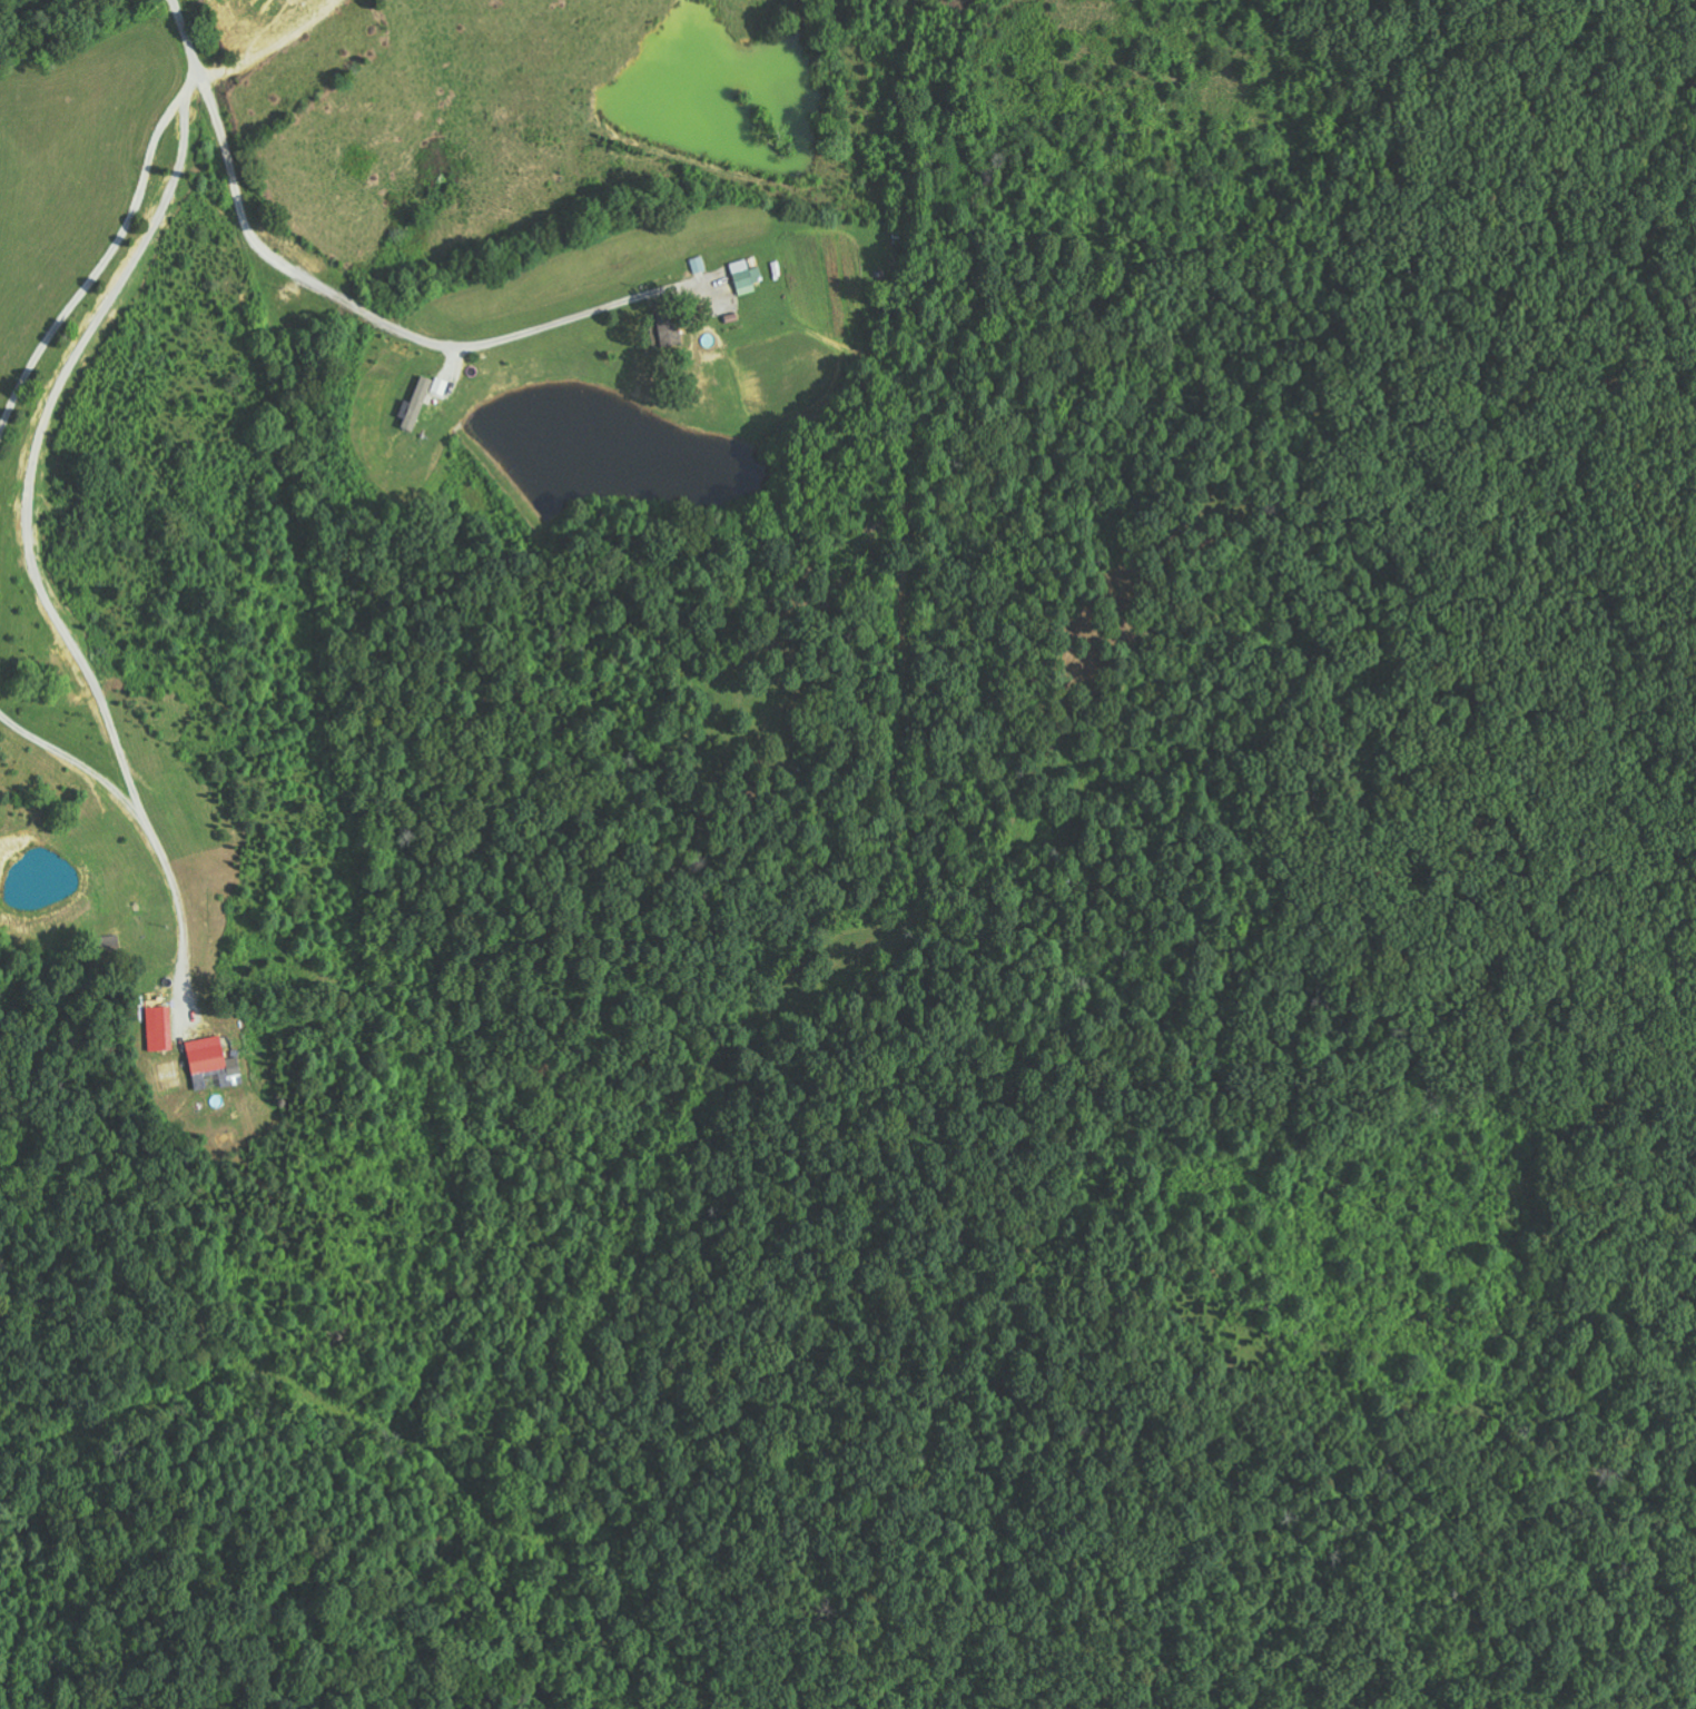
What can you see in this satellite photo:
road: (195, 42)
road: (108, 261)
building: (747, 277)
road: (376, 319)
road: (36, 545)
road: (78, 753)
building: (160, 1028)
building: (215, 1060)

